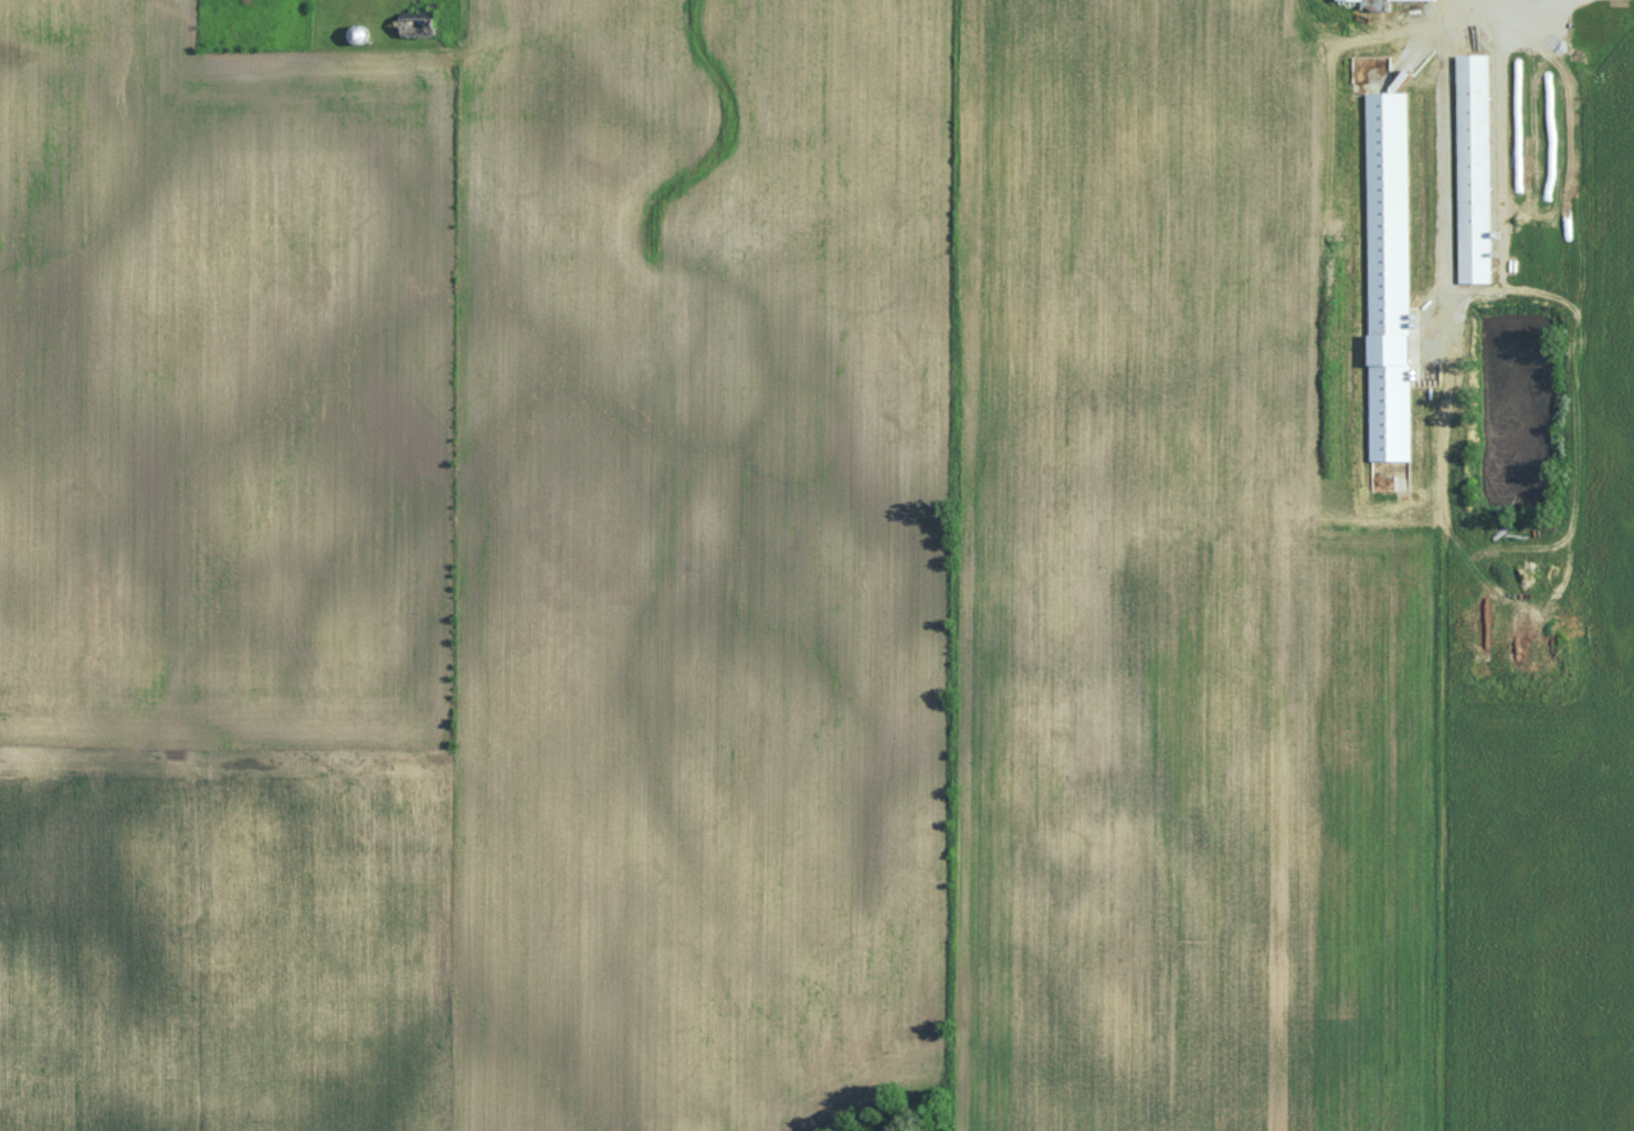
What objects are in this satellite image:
building: (429, 23)
building: (1470, 168)

